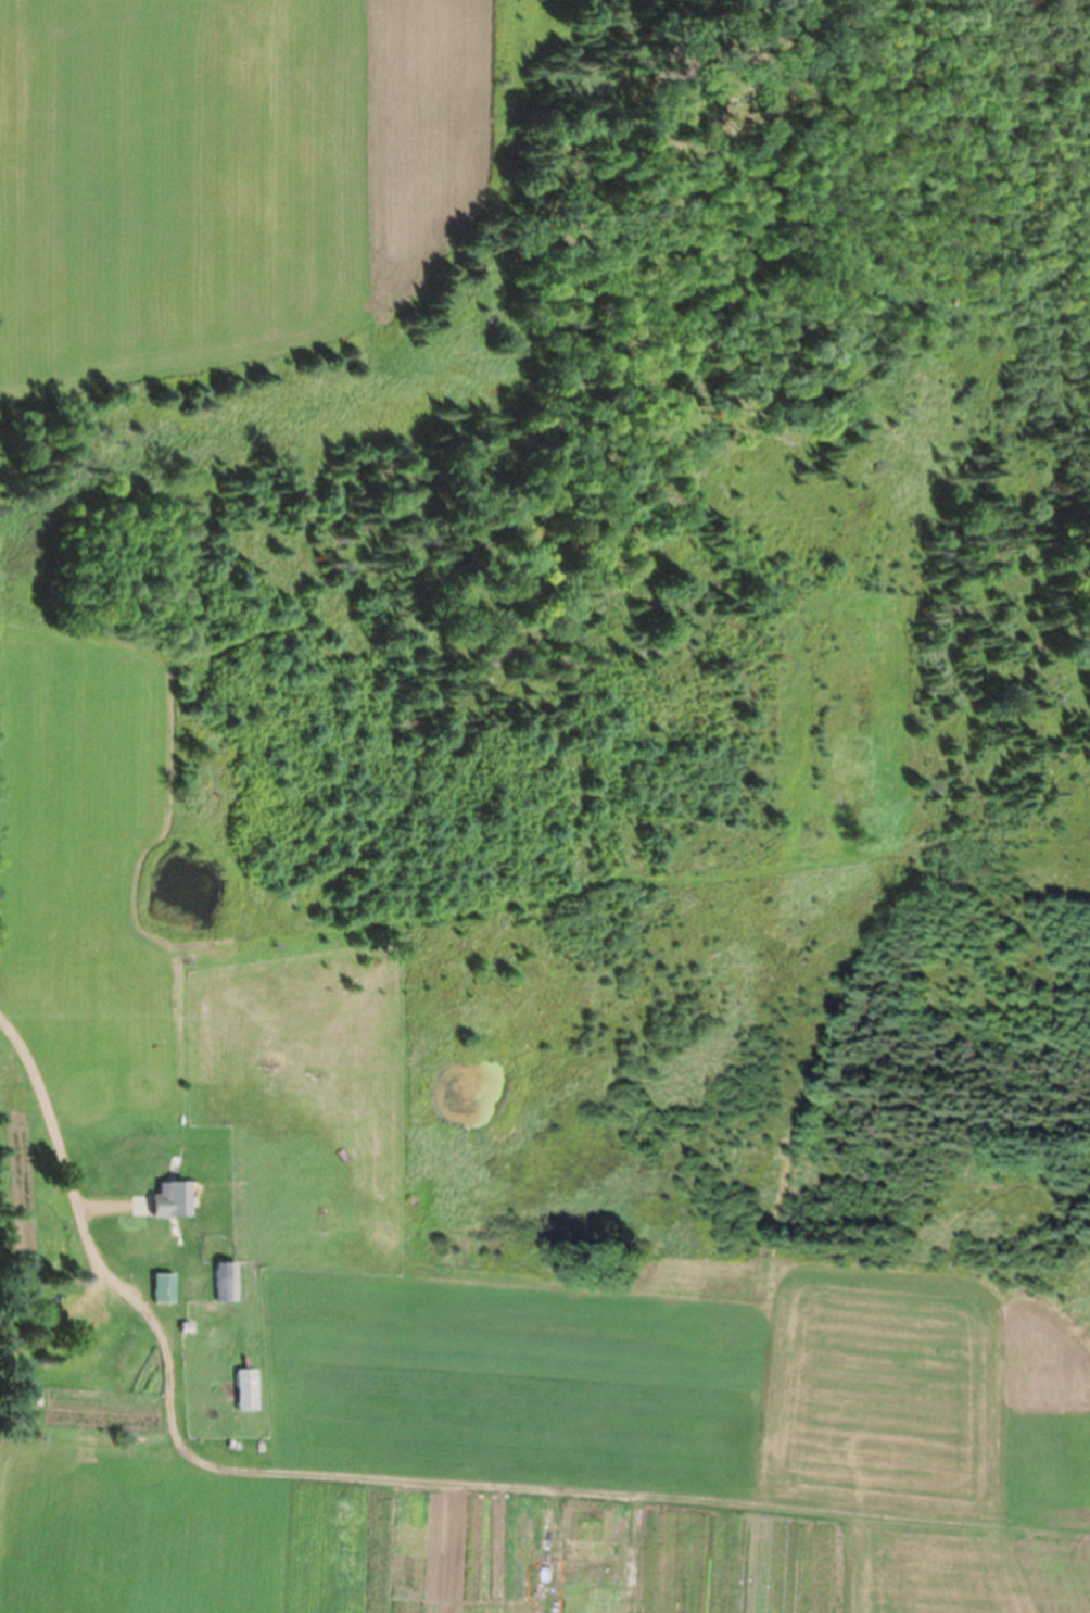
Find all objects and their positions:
road: (63, 1148)
building: (156, 1200)
building: (219, 1281)
building: (155, 1287)
building: (240, 1388)

